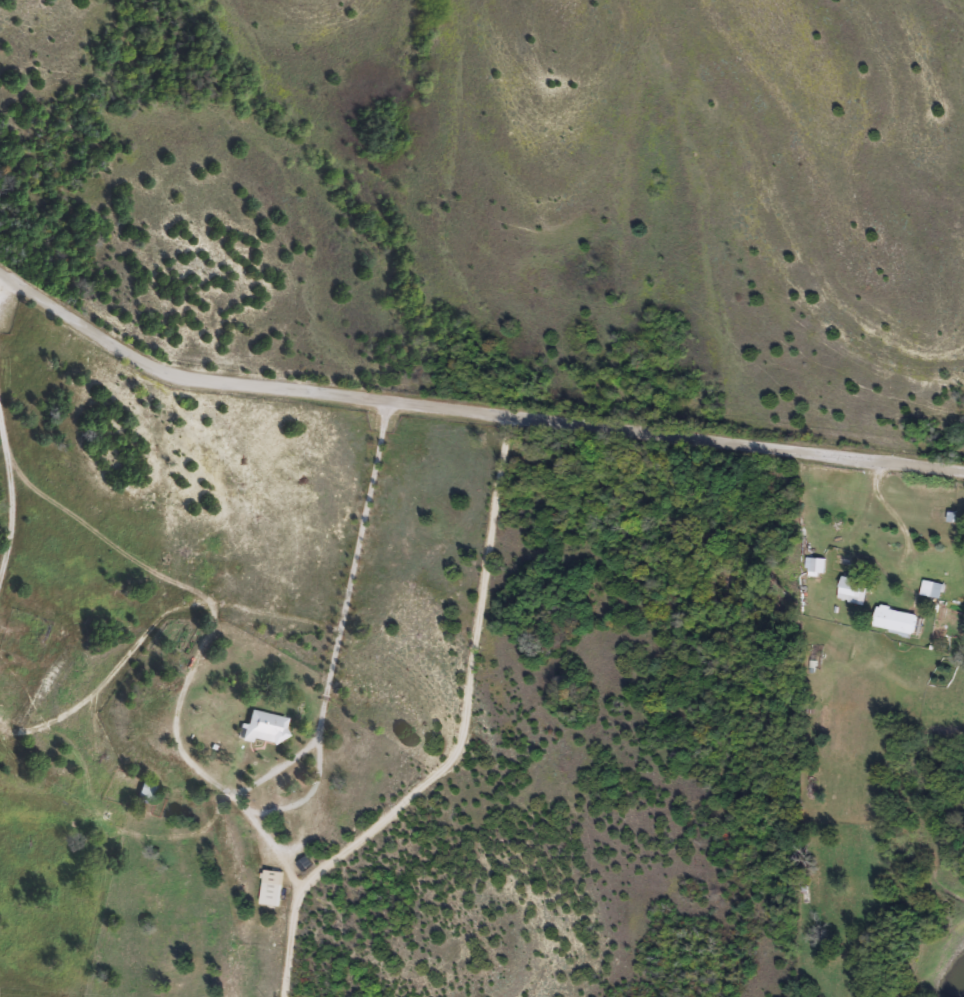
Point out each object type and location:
road: (2, 290)
road: (469, 412)
road: (13, 494)
building: (816, 565)
building: (851, 590)
building: (931, 590)
building: (894, 620)
road: (155, 626)
road: (196, 669)
road: (329, 692)
building: (264, 729)
building: (218, 745)
road: (463, 746)
road: (308, 833)
road: (279, 853)
building: (271, 895)

